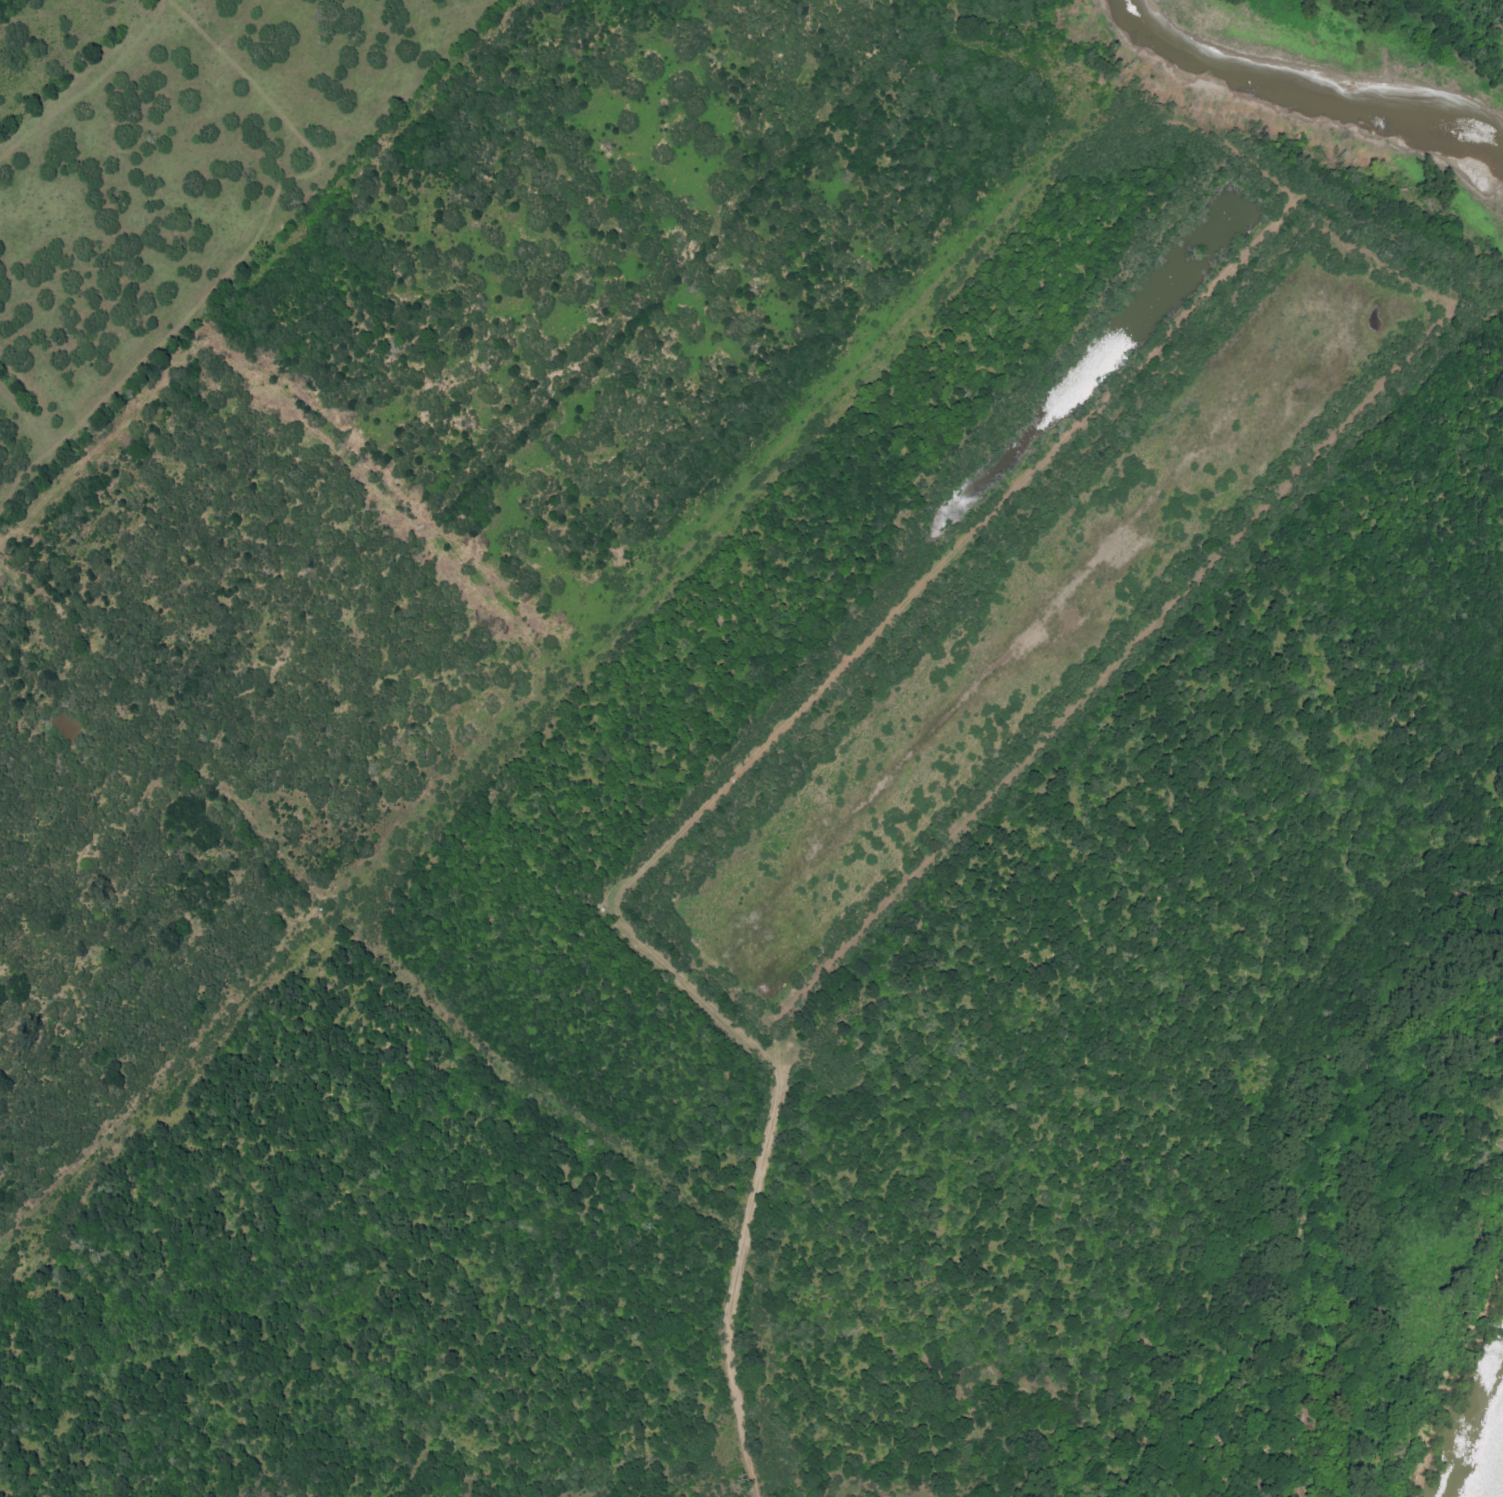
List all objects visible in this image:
river: (1502, 1496)

